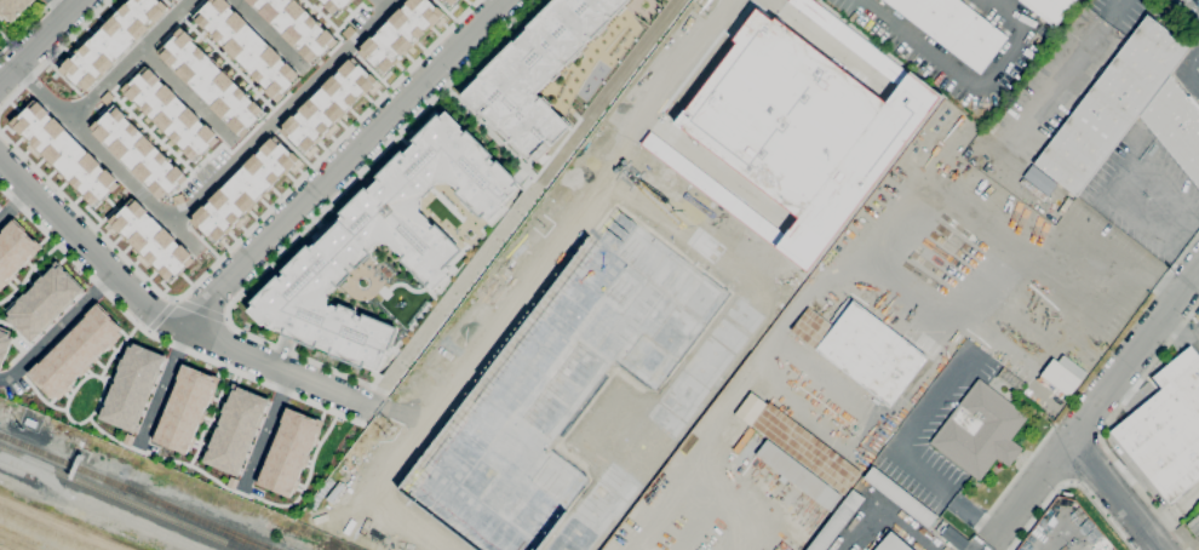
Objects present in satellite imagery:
building: (172, 0)
building: (448, 2)
road: (996, 2)
road: (381, 4)
road: (172, 5)
road: (63, 7)
building: (12, 8)
building: (1050, 8)
road: (444, 10)
road: (1186, 15)
road: (329, 21)
building: (303, 23)
road: (25, 24)
building: (954, 28)
road: (268, 33)
building: (397, 34)
road: (5, 36)
building: (110, 41)
road: (42, 42)
building: (246, 47)
road: (52, 52)
road: (128, 59)
road: (1193, 61)
road: (226, 64)
road: (367, 65)
building: (537, 73)
road: (667, 76)
road: (1193, 76)
road: (1060, 78)
building: (211, 80)
road: (964, 86)
road: (187, 92)
building: (1112, 104)
building: (326, 107)
road: (282, 110)
building: (170, 113)
building: (1176, 125)
building: (803, 127)
road: (488, 133)
road: (155, 134)
road: (289, 145)
building: (138, 151)
building: (67, 155)
road: (107, 156)
road: (346, 162)
road: (705, 164)
building: (1040, 179)
building: (1033, 189)
building: (242, 191)
road: (13, 201)
road: (937, 207)
road: (310, 220)
road: (240, 235)
building: (150, 240)
building: (383, 242)
building: (13, 250)
road: (1102, 252)
parking lot: (941, 257)
road: (27, 271)
parking lot: (1090, 276)
road: (173, 299)
building: (42, 302)
road: (178, 303)
road: (937, 309)
road: (162, 316)
road: (224, 317)
road: (57, 326)
road: (727, 337)
road: (159, 338)
parking lot: (920, 339)
building: (4, 342)
road: (115, 349)
building: (862, 349)
building: (75, 351)
road: (756, 354)
road: (458, 361)
road: (12, 366)
road: (923, 372)
building: (1063, 374)
road: (1090, 377)
building: (564, 380)
building: (130, 386)
road: (161, 388)
road: (1098, 401)
building: (184, 408)
road: (394, 409)
road: (211, 418)
road: (69, 419)
building: (30, 422)
road: (1105, 426)
building: (1166, 429)
building: (234, 430)
building: (980, 430)
road: (263, 432)
road: (865, 435)
road: (1100, 440)
building: (805, 448)
building: (287, 452)
railway: (81, 468)
building: (798, 475)
road: (1071, 481)
road: (1072, 483)
road: (231, 489)
road: (943, 493)
road: (1115, 494)
railway: (122, 498)
road: (725, 504)
road: (884, 509)
road: (658, 511)
building: (1194, 525)
railway: (211, 526)
railway: (218, 526)
building: (954, 538)
road: (991, 540)
building: (893, 543)

